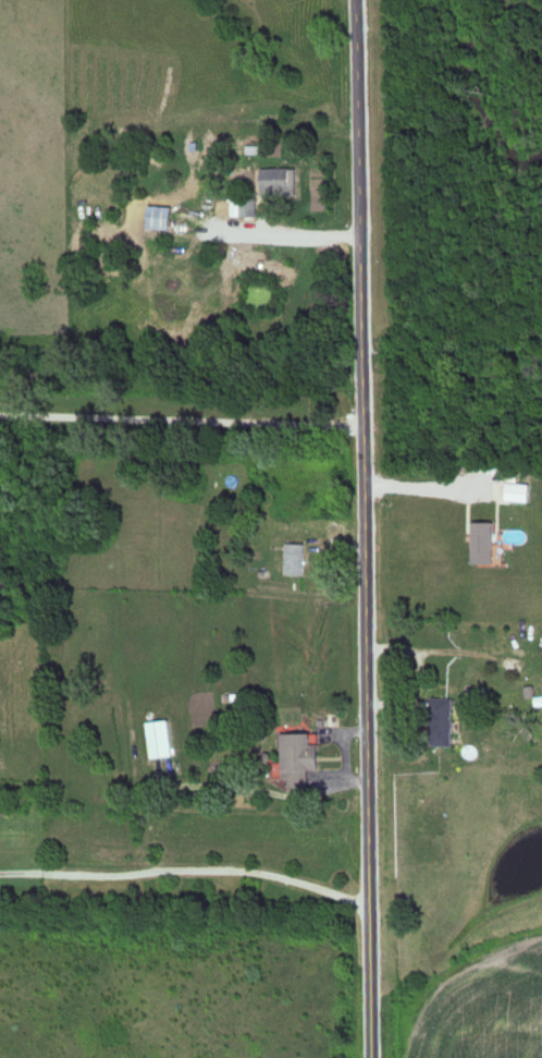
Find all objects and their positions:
building: (276, 183)
building: (157, 218)
road: (288, 238)
road: (182, 423)
road: (420, 485)
road: (365, 528)
building: (293, 559)
building: (438, 723)
building: (155, 740)
road: (344, 746)
building: (294, 755)
road: (260, 791)
road: (186, 871)

